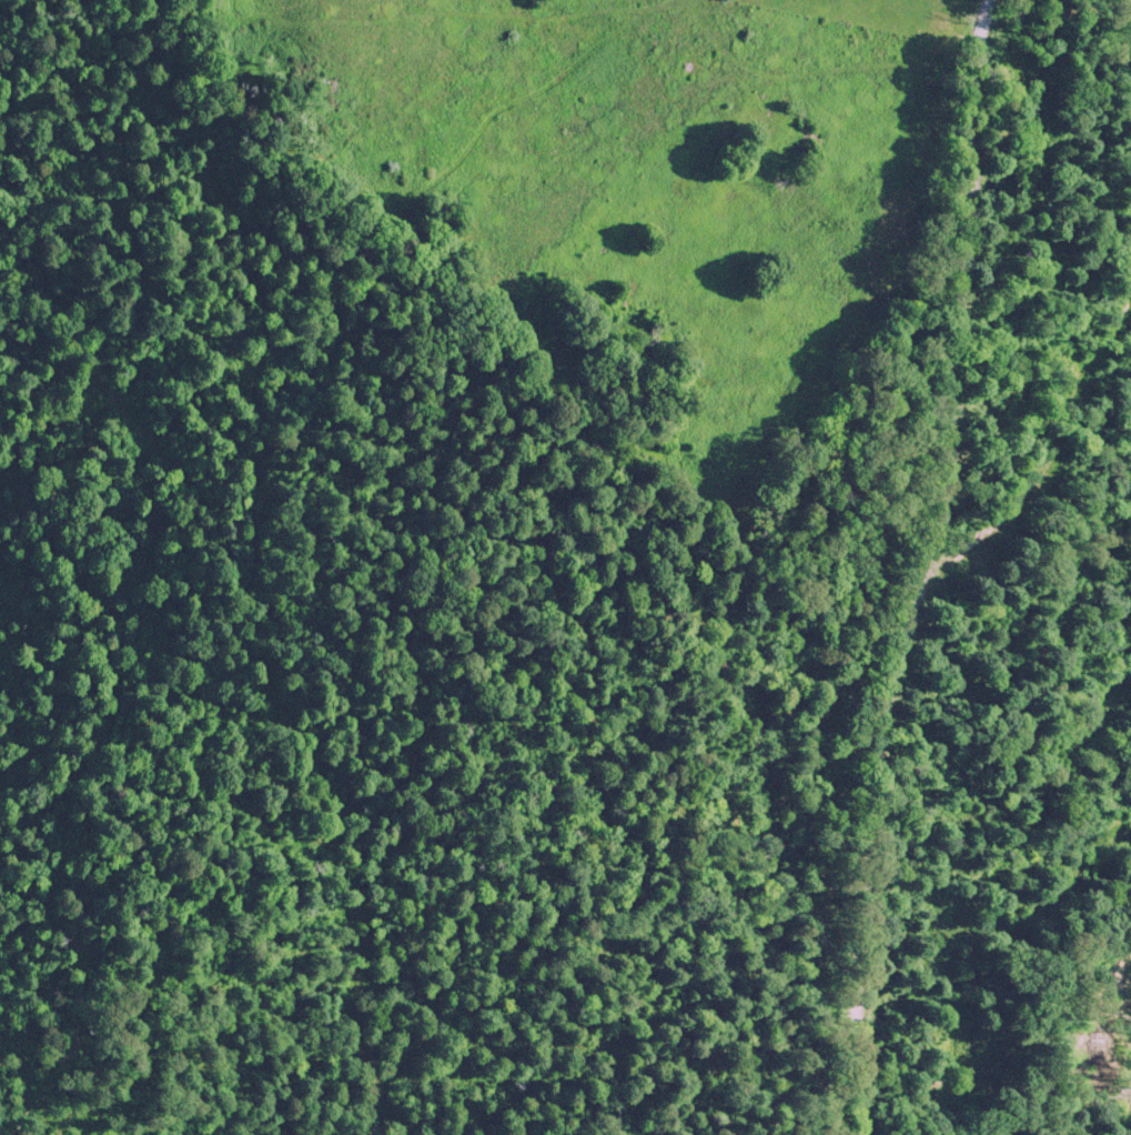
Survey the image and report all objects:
road: (871, 563)

